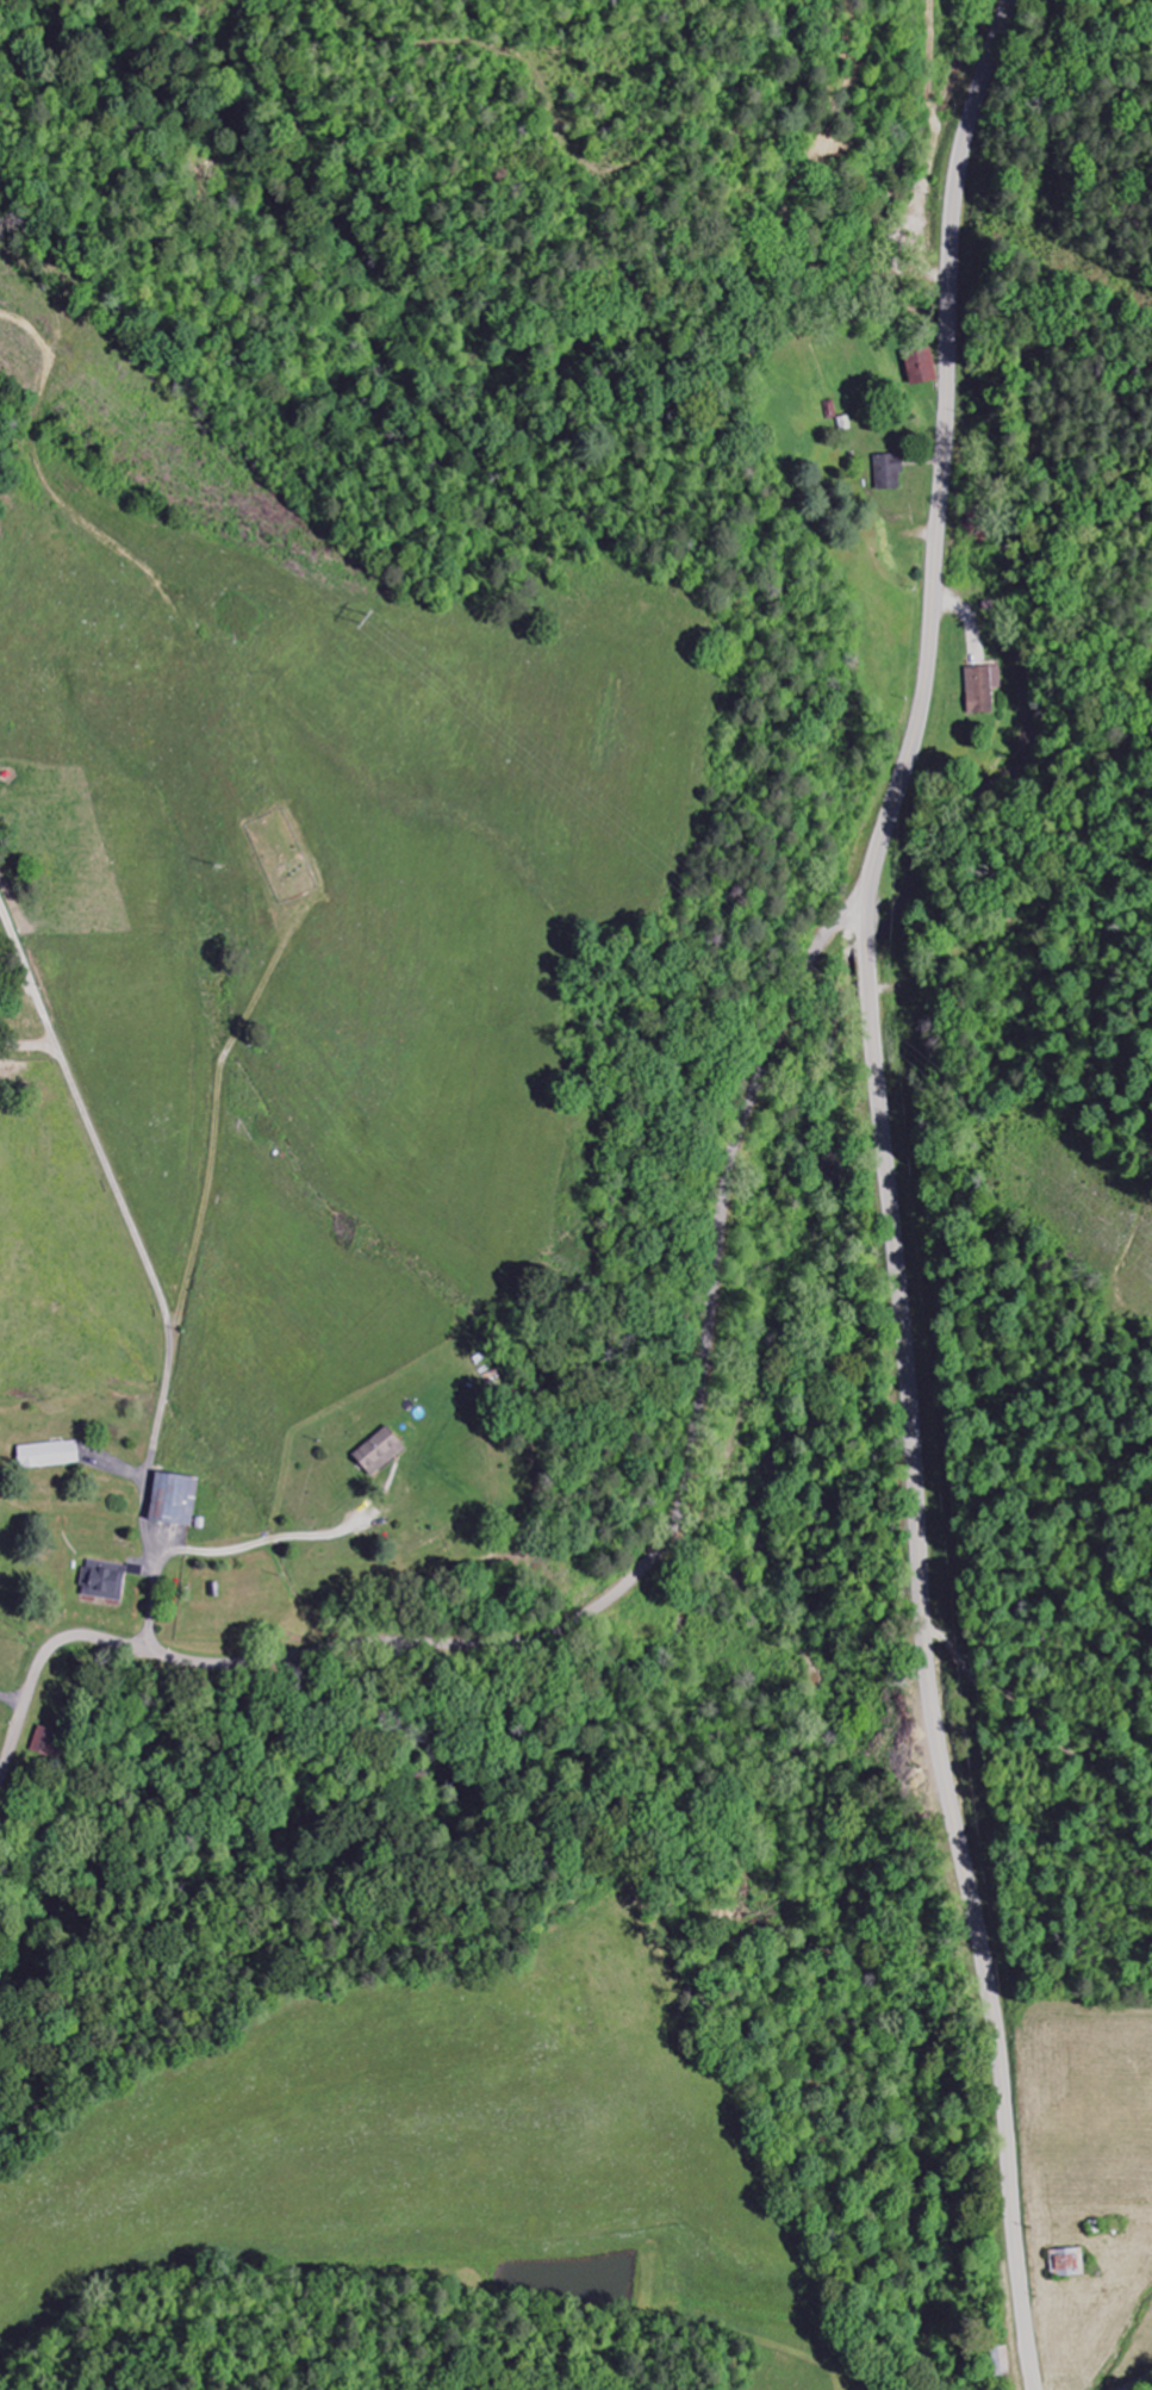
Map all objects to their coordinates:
building: (919, 361)
building: (980, 689)
road: (889, 1188)
building: (378, 1450)
building: (46, 1454)
building: (173, 1498)
building: (104, 1580)
road: (621, 1581)
building: (48, 1742)
building: (1066, 2260)
road: (1140, 2383)

